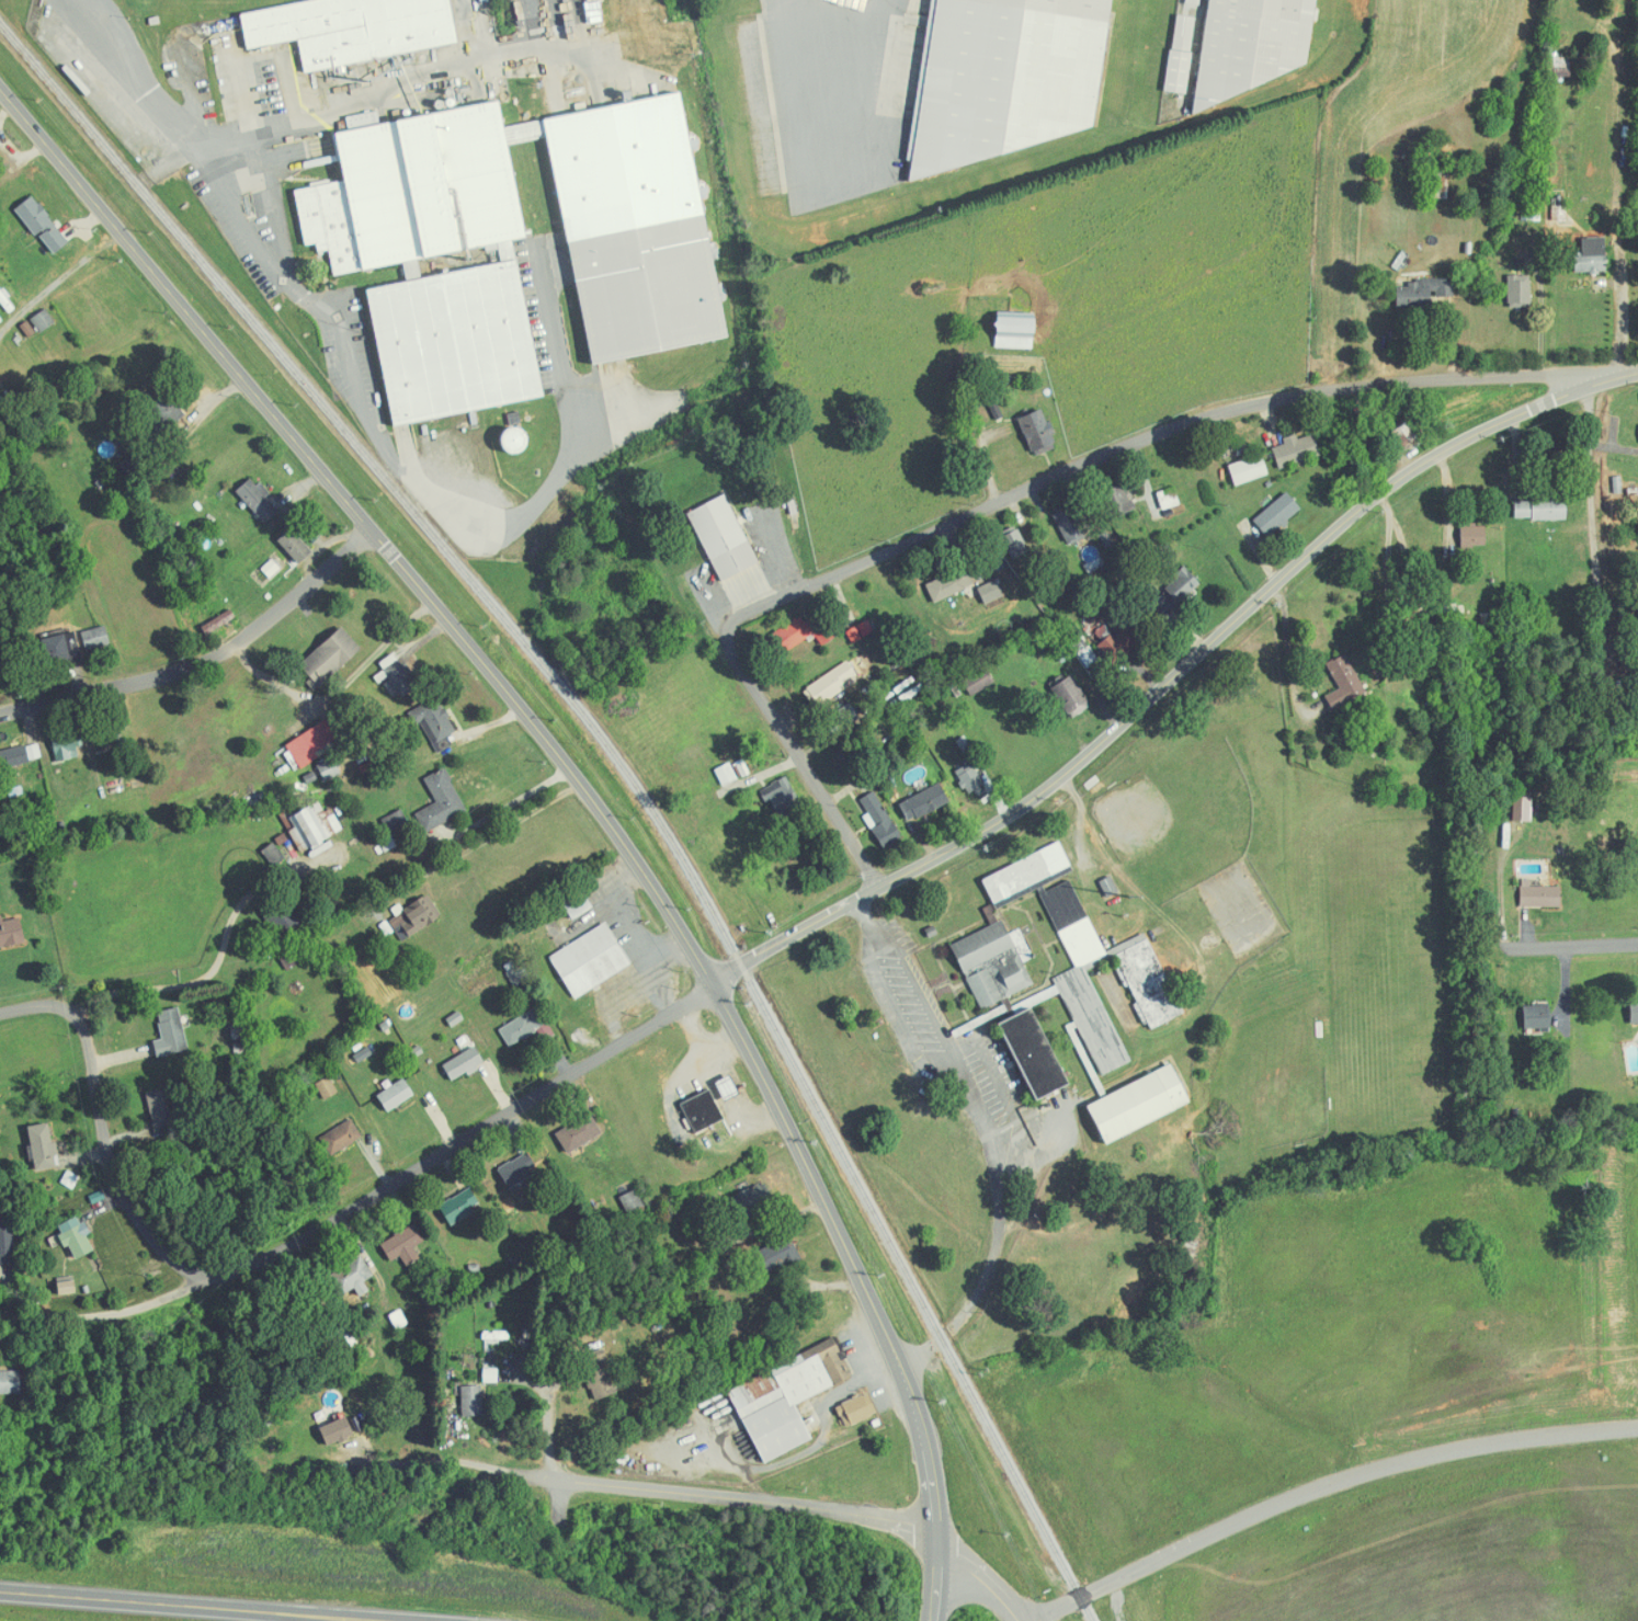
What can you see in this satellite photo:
road: (543, 25)
road: (579, 26)
building: (353, 28)
road: (470, 34)
building: (1253, 44)
building: (1181, 54)
road: (259, 55)
road: (860, 73)
building: (1008, 77)
road: (426, 82)
road: (193, 99)
building: (0, 158)
road: (272, 206)
building: (42, 224)
building: (635, 227)
road: (89, 230)
building: (1592, 255)
building: (434, 256)
road: (271, 260)
road: (75, 270)
building: (1443, 287)
building: (1520, 289)
building: (1413, 293)
building: (44, 320)
building: (1015, 330)
road: (1612, 374)
road: (573, 418)
building: (1038, 432)
road: (1614, 445)
building: (1296, 449)
building: (1249, 469)
building: (1169, 498)
building: (258, 499)
road: (998, 502)
building: (1116, 502)
building: (1540, 509)
building: (1277, 514)
road: (1591, 516)
building: (1069, 525)
building: (1476, 535)
building: (724, 537)
building: (1015, 544)
building: (296, 546)
building: (951, 584)
building: (991, 592)
building: (1175, 592)
building: (220, 621)
building: (801, 632)
building: (96, 638)
building: (1113, 642)
road: (1289, 646)
building: (62, 648)
building: (1088, 654)
road: (201, 655)
building: (330, 658)
building: (399, 673)
building: (832, 682)
building: (979, 682)
building: (1344, 682)
road: (1153, 687)
building: (1072, 696)
building: (842, 718)
building: (435, 720)
building: (109, 730)
building: (311, 743)
building: (67, 751)
building: (23, 754)
building: (727, 774)
building: (970, 779)
railway: (611, 780)
road: (582, 796)
building: (782, 796)
building: (442, 801)
building: (924, 802)
road: (504, 809)
building: (1522, 809)
building: (396, 821)
building: (880, 821)
building: (1110, 887)
building: (1540, 895)
building: (577, 903)
road: (632, 916)
building: (416, 917)
building: (11, 933)
building: (1066, 945)
road: (1510, 947)
road: (221, 960)
building: (590, 960)
building: (992, 964)
road: (656, 975)
building: (1147, 981)
road: (625, 1005)
building: (1634, 1012)
building: (1537, 1017)
building: (522, 1027)
building: (172, 1032)
building: (1033, 1053)
building: (464, 1064)
building: (728, 1086)
building: (327, 1088)
building: (396, 1095)
building: (1139, 1104)
building: (160, 1109)
building: (703, 1111)
building: (580, 1131)
road: (987, 1132)
building: (342, 1137)
road: (457, 1140)
building: (43, 1146)
building: (517, 1171)
building: (633, 1200)
building: (749, 1201)
building: (460, 1206)
road: (137, 1230)
building: (8, 1236)
building: (76, 1236)
building: (405, 1245)
building: (775, 1255)
building: (353, 1277)
road: (880, 1374)
building: (600, 1380)
building: (10, 1382)
building: (787, 1399)
building: (473, 1401)
building: (857, 1409)
building: (338, 1430)
road: (548, 1432)
road: (810, 1450)
road: (1321, 1487)
road: (653, 1488)
road: (985, 1580)
road: (160, 1602)
road: (379, 1617)
road: (337, 1618)

